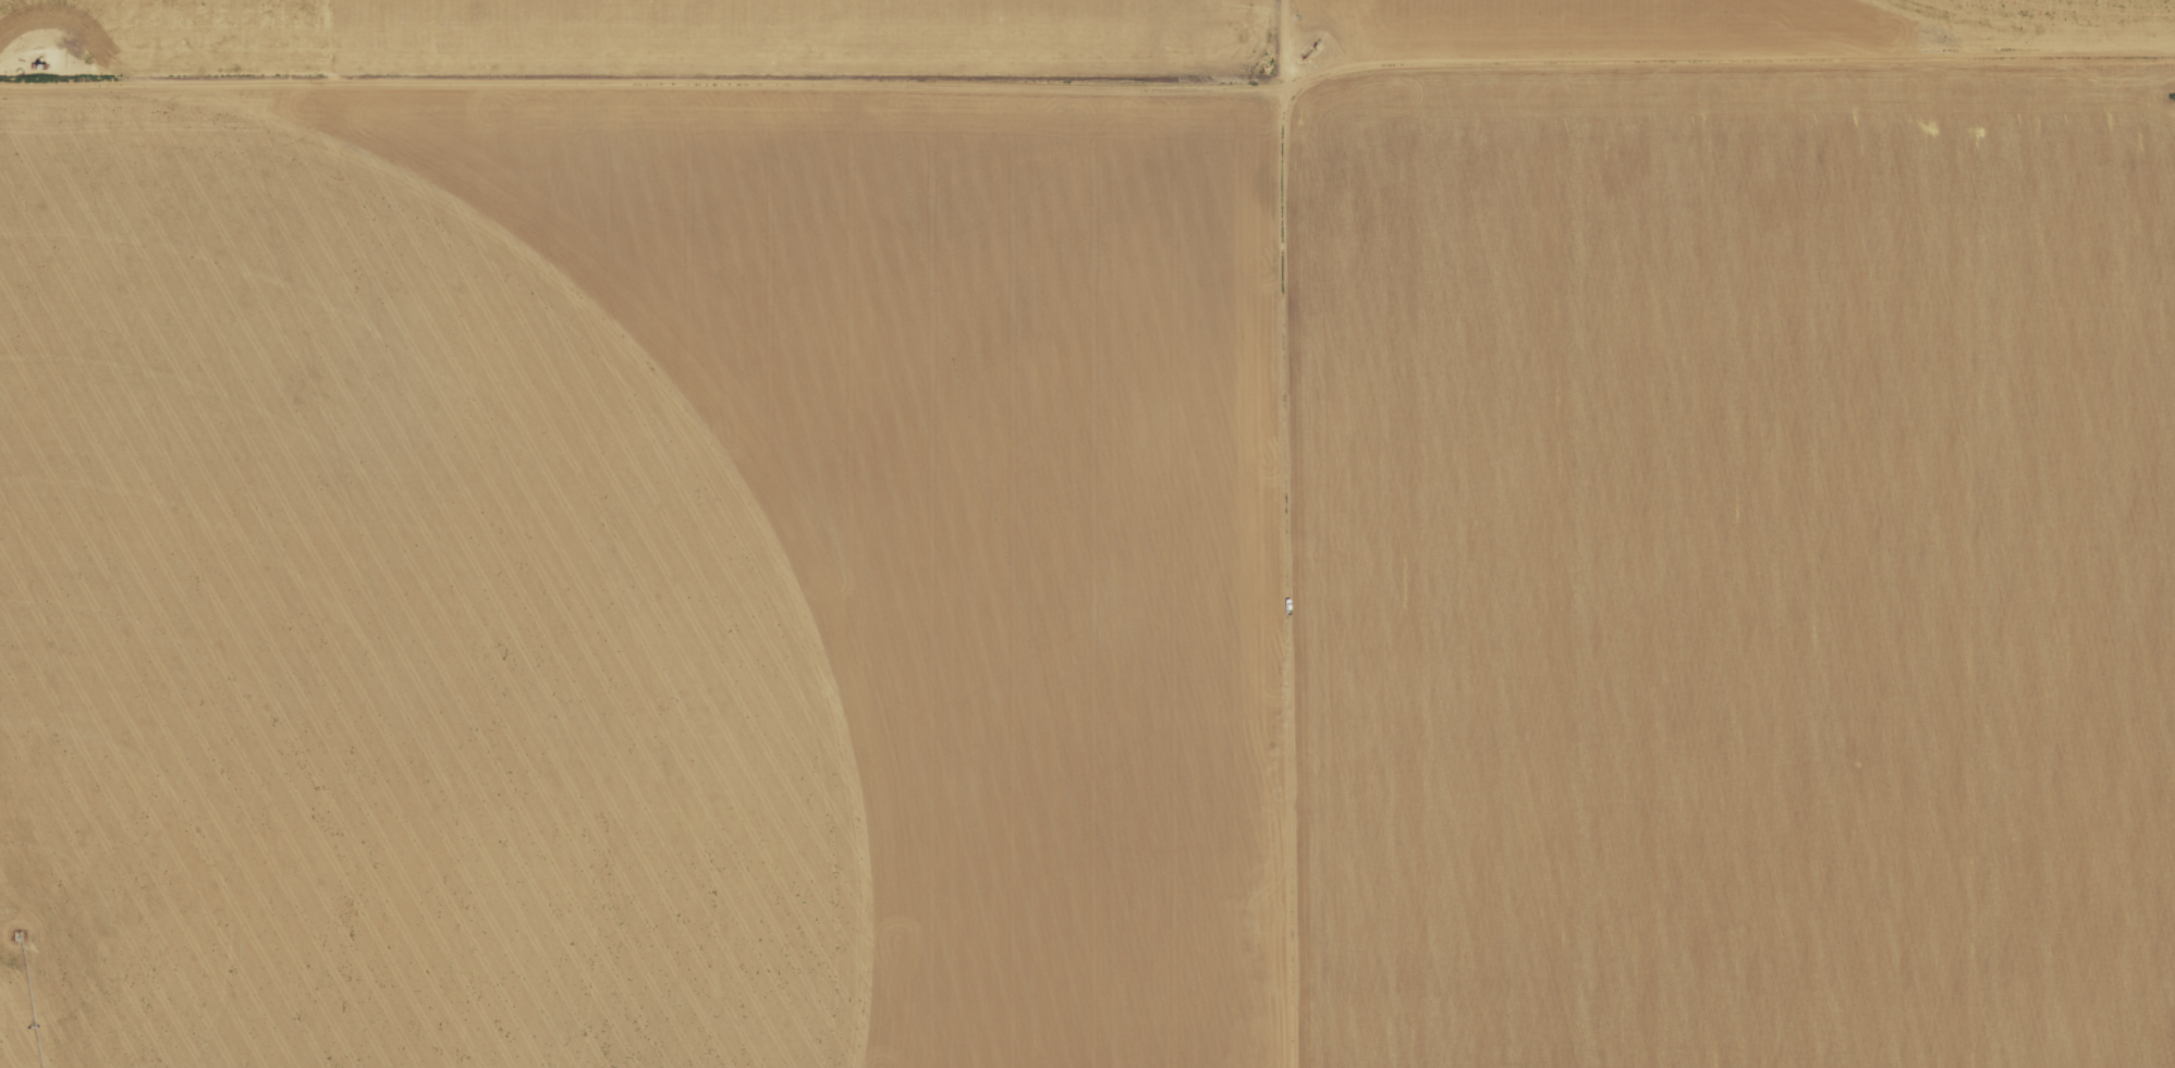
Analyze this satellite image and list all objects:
road: (1087, 82)
road: (1266, 533)

